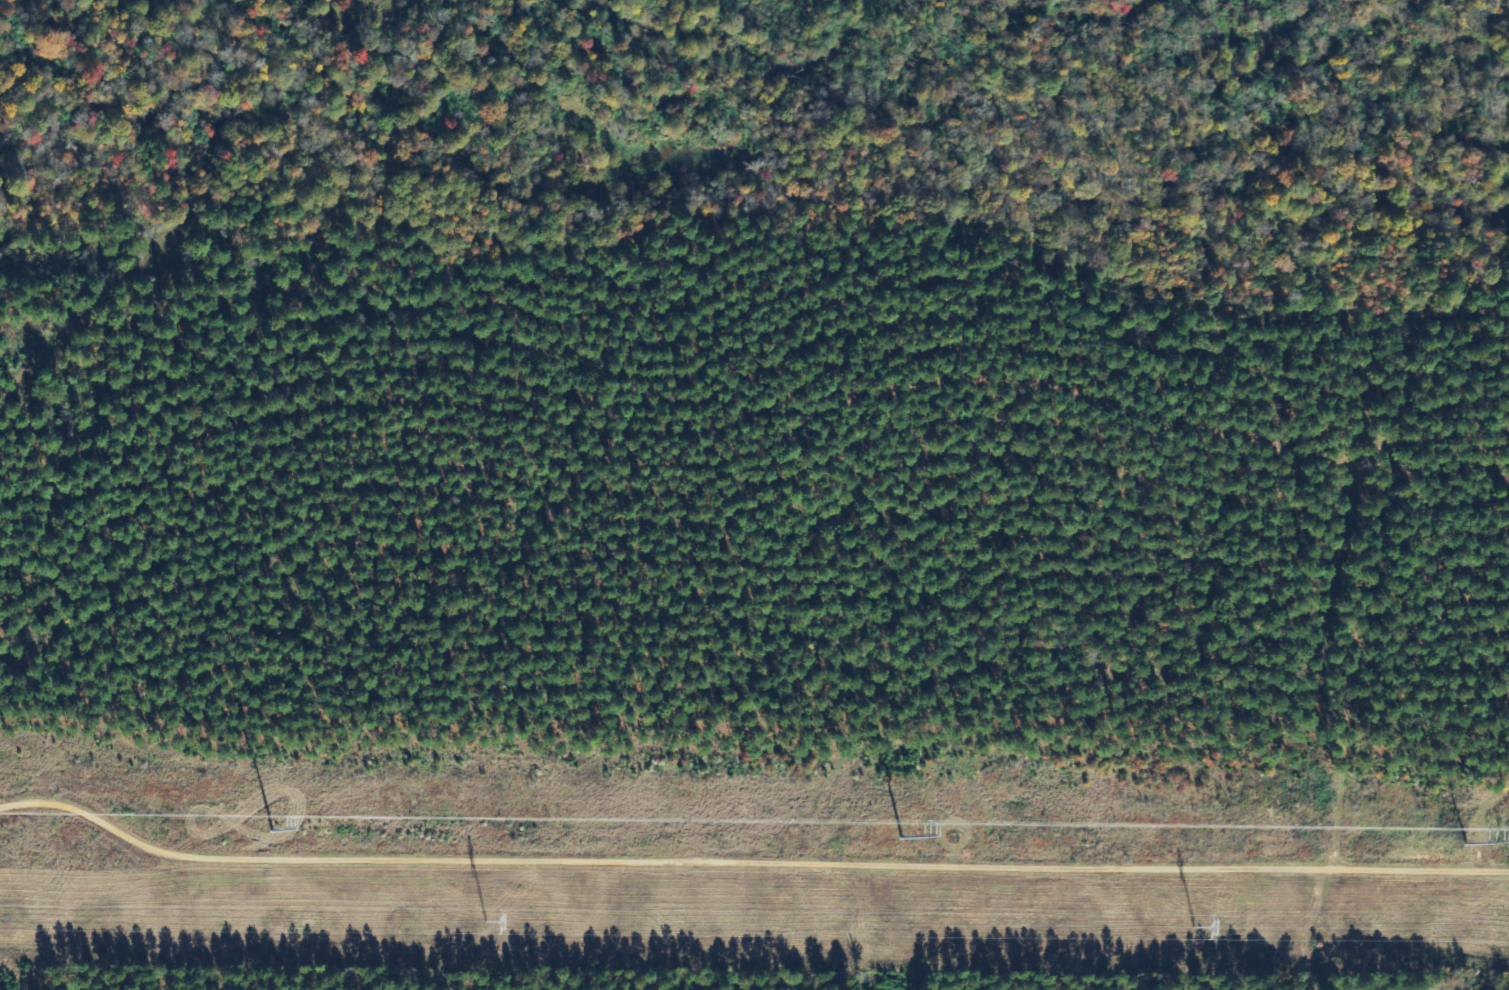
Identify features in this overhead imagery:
power tower: (485, 917)
power tower: (1193, 923)

